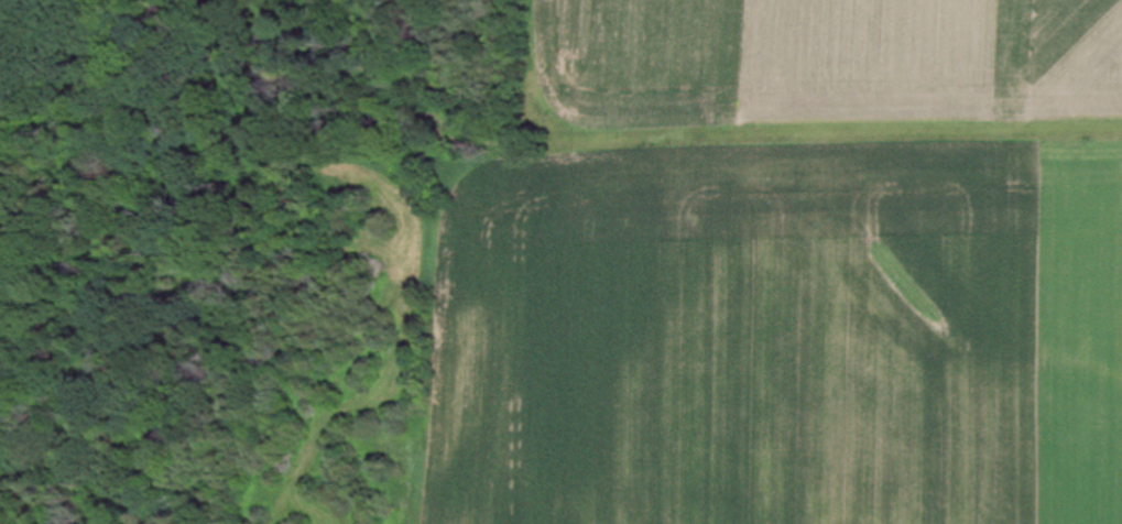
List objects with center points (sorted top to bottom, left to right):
crop: (791, 270)

